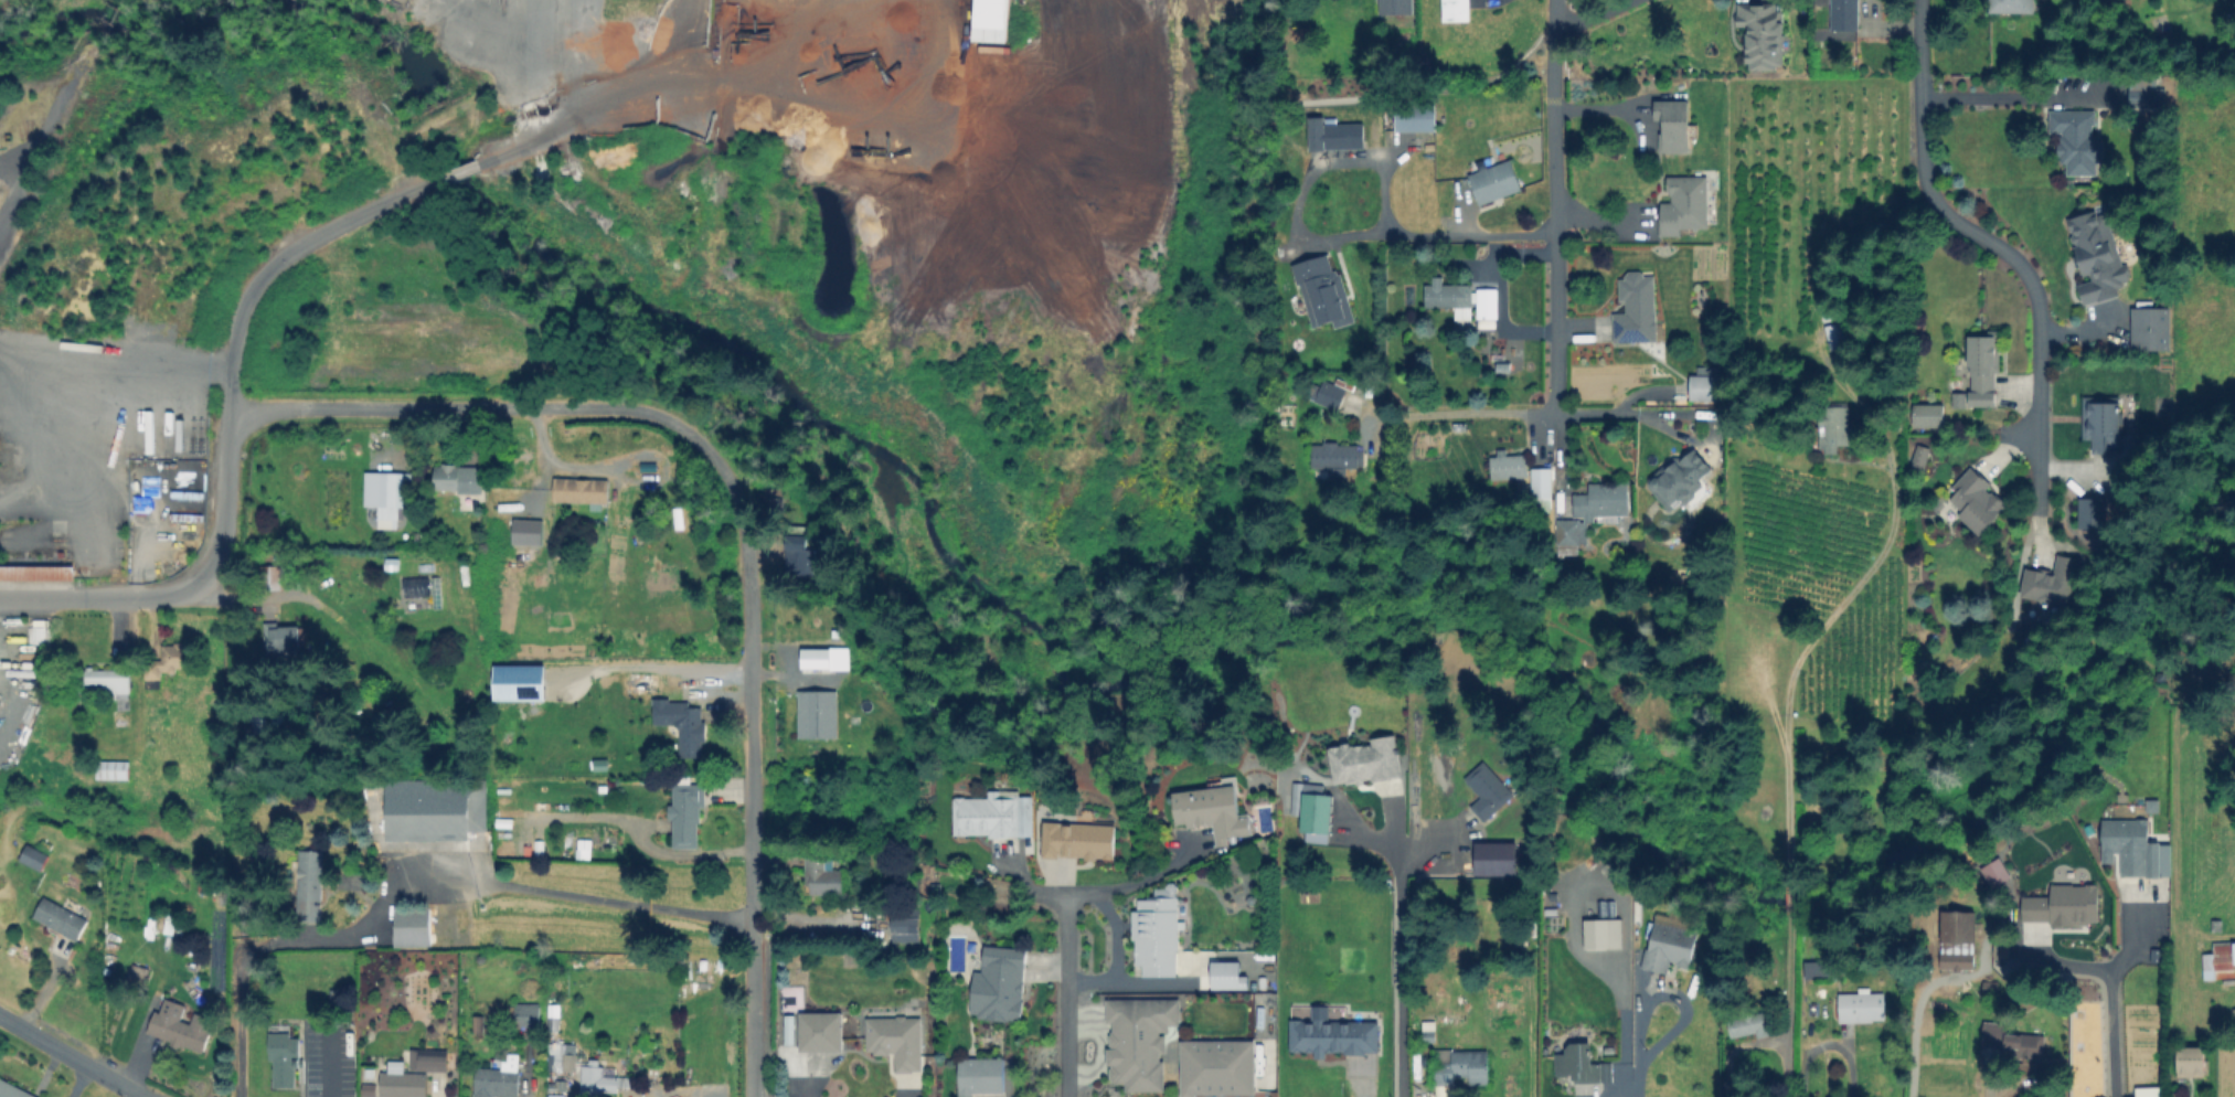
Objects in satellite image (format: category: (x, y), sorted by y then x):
building: (1396, 7)
building: (2013, 7)
building: (1458, 10)
road: (1590, 15)
building: (1844, 15)
building: (992, 20)
building: (1763, 36)
building: (2140, 96)
road: (2002, 97)
building: (1416, 118)
building: (1671, 125)
building: (1345, 137)
building: (2077, 143)
road: (1372, 160)
building: (1682, 170)
building: (1496, 182)
road: (1553, 206)
building: (1670, 223)
road: (1999, 243)
building: (2100, 262)
building: (1323, 294)
road: (248, 296)
building: (1449, 297)
building: (1488, 305)
building: (1637, 312)
building: (2152, 330)
road: (41, 351)
road: (157, 364)
building: (1983, 370)
building: (1706, 388)
building: (1332, 396)
building: (1960, 402)
road: (488, 405)
road: (1486, 413)
road: (1622, 414)
building: (1926, 415)
building: (2103, 425)
building: (1832, 428)
building: (1338, 456)
building: (1922, 458)
road: (81, 462)
building: (1510, 465)
building: (459, 478)
building: (1681, 479)
building: (1543, 483)
building: (582, 488)
building: (395, 490)
building: (1603, 502)
building: (1977, 502)
building: (2093, 513)
building: (524, 531)
building: (1572, 536)
building: (797, 554)
building: (36, 572)
building: (270, 577)
building: (2054, 583)
building: (413, 586)
road: (251, 596)
building: (284, 638)
building: (833, 658)
building: (170, 662)
building: (104, 682)
building: (518, 682)
building: (647, 683)
building: (816, 713)
building: (855, 721)
building: (691, 726)
building: (1371, 760)
road: (1782, 763)
building: (113, 770)
road: (749, 777)
building: (1489, 791)
building: (2150, 805)
building: (437, 810)
building: (688, 813)
building: (1212, 813)
building: (1316, 814)
building: (989, 817)
building: (1079, 840)
building: (2131, 849)
building: (1493, 858)
building: (35, 859)
building: (1993, 872)
road: (1156, 875)
building: (823, 878)
road: (479, 881)
building: (210, 884)
building: (310, 885)
road: (1083, 896)
building: (2065, 906)
building: (62, 919)
building: (172, 924)
building: (413, 926)
building: (907, 927)
road: (1116, 934)
building: (1598, 935)
building: (1159, 936)
building: (1957, 940)
building: (1669, 947)
building: (2221, 962)
road: (2061, 965)
road: (1402, 968)
building: (1822, 969)
building: (139, 974)
building: (1224, 974)
road: (1136, 980)
building: (1000, 987)
building: (338, 997)
road: (1670, 997)
road: (1071, 998)
road: (236, 1003)
road: (2110, 1005)
building: (1860, 1010)
building: (526, 1016)
building: (479, 1024)
building: (1746, 1024)
building: (556, 1025)
building: (182, 1027)
road: (1908, 1031)
building: (1430, 1033)
building: (821, 1034)
building: (1335, 1036)
building: (2012, 1037)
building: (1137, 1040)
building: (898, 1042)
road: (1827, 1044)
road: (72, 1056)
building: (430, 1059)
building: (563, 1059)
building: (285, 1061)
road: (328, 1061)
building: (2194, 1064)
building: (1583, 1065)
building: (1215, 1066)
building: (1462, 1068)
building: (982, 1077)
road: (1638, 1077)
building: (501, 1079)
building: (597, 1079)
building: (629, 1083)
building: (404, 1085)
building: (555, 1085)
building: (366, 1088)
building: (12, 1090)
building: (2178, 1095)

